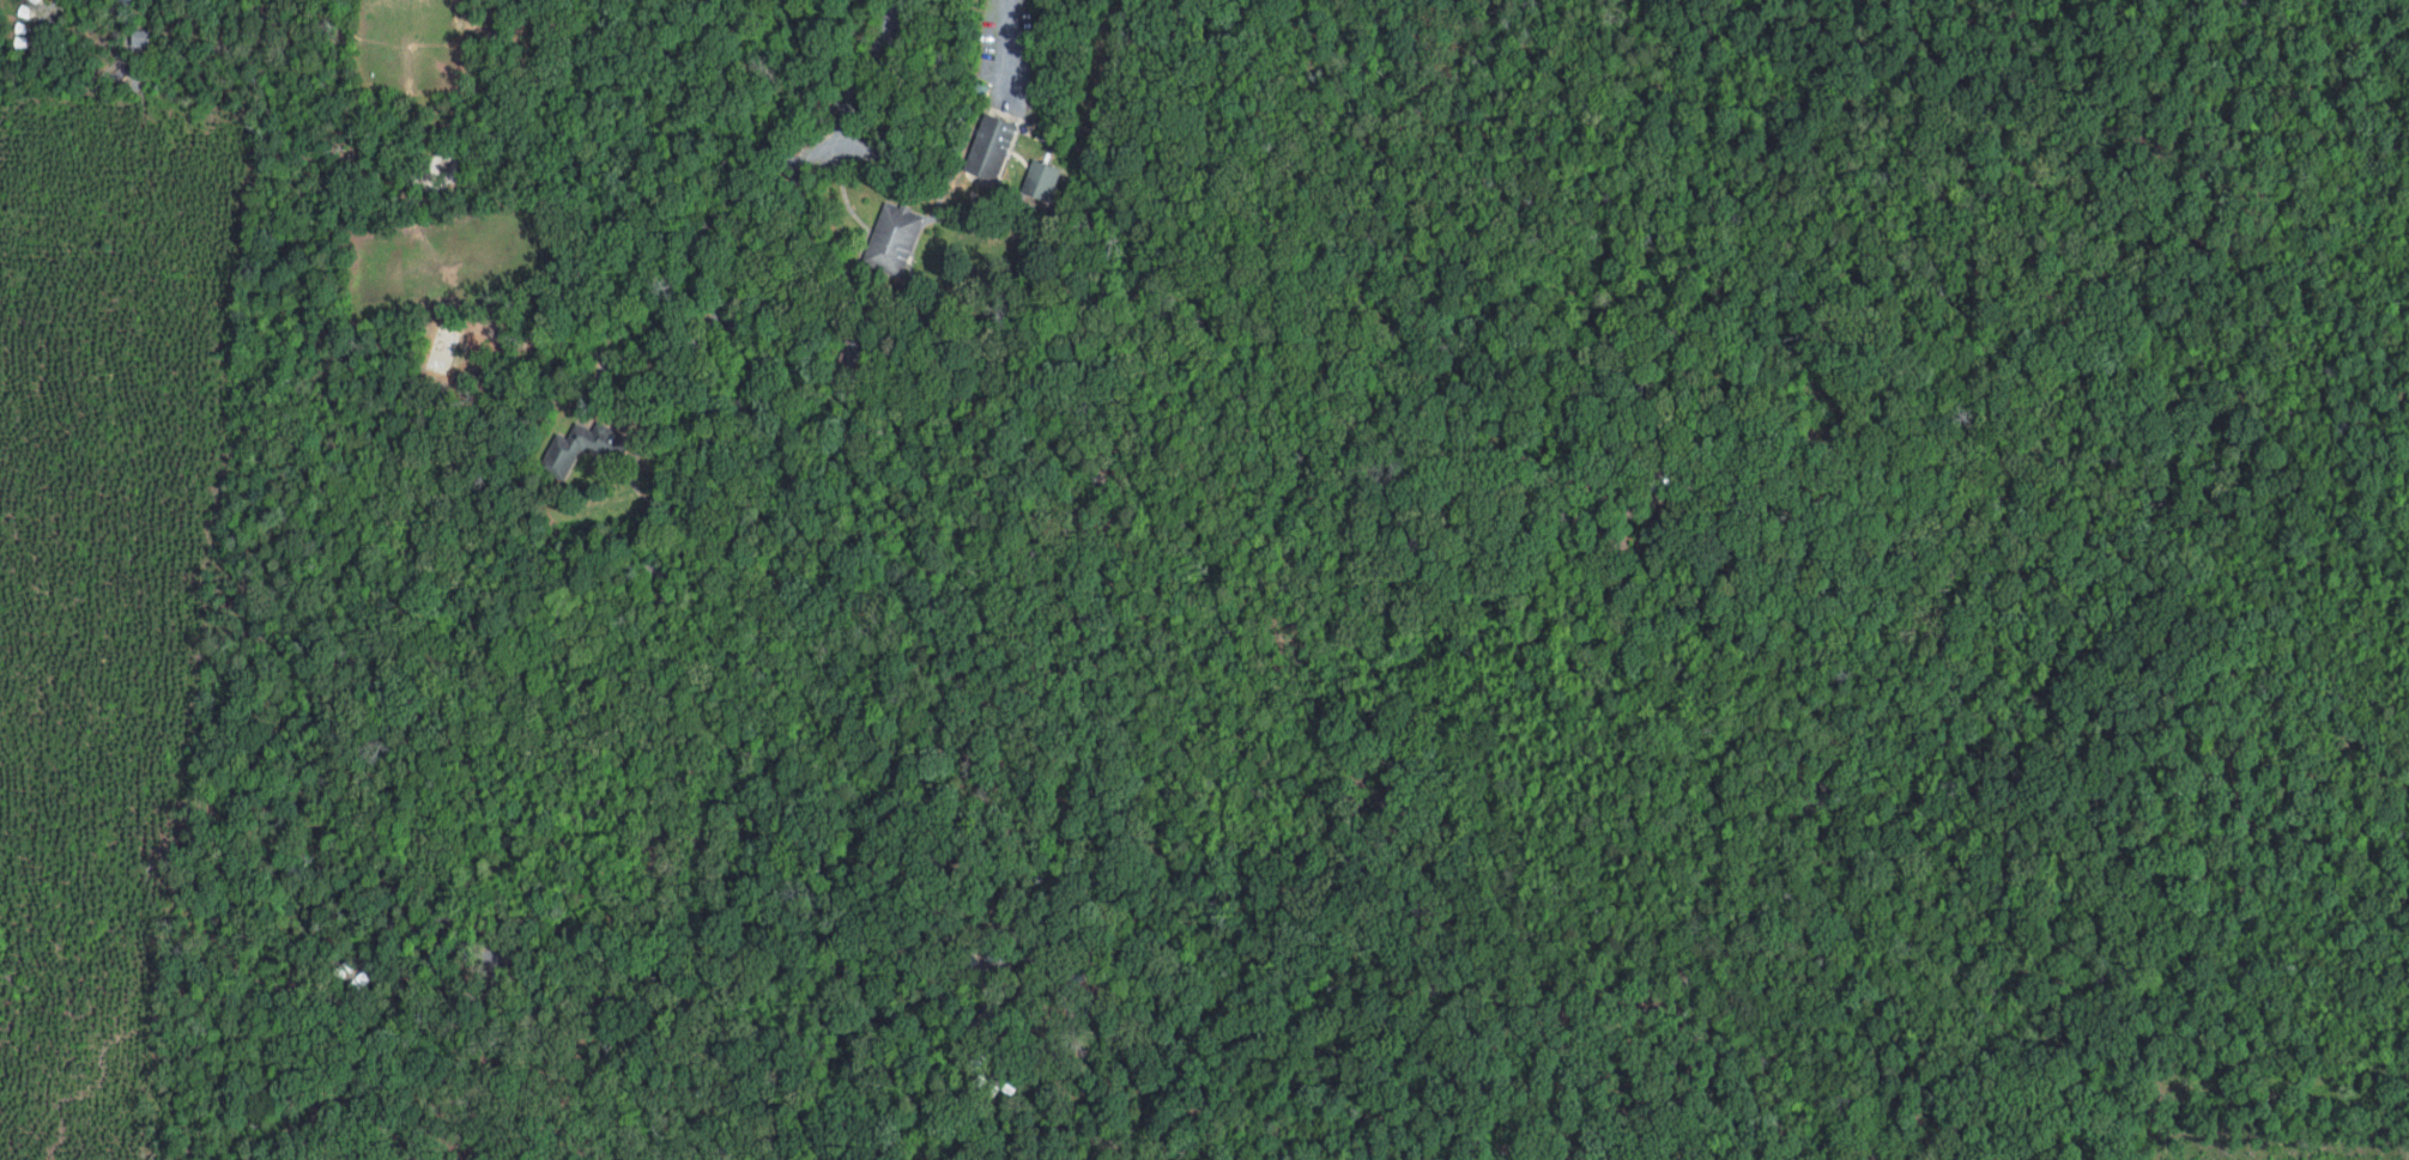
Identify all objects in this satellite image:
road: (1009, 40)
road: (858, 66)
building: (988, 145)
building: (1041, 180)
building: (892, 236)
road: (731, 286)
building: (580, 444)

